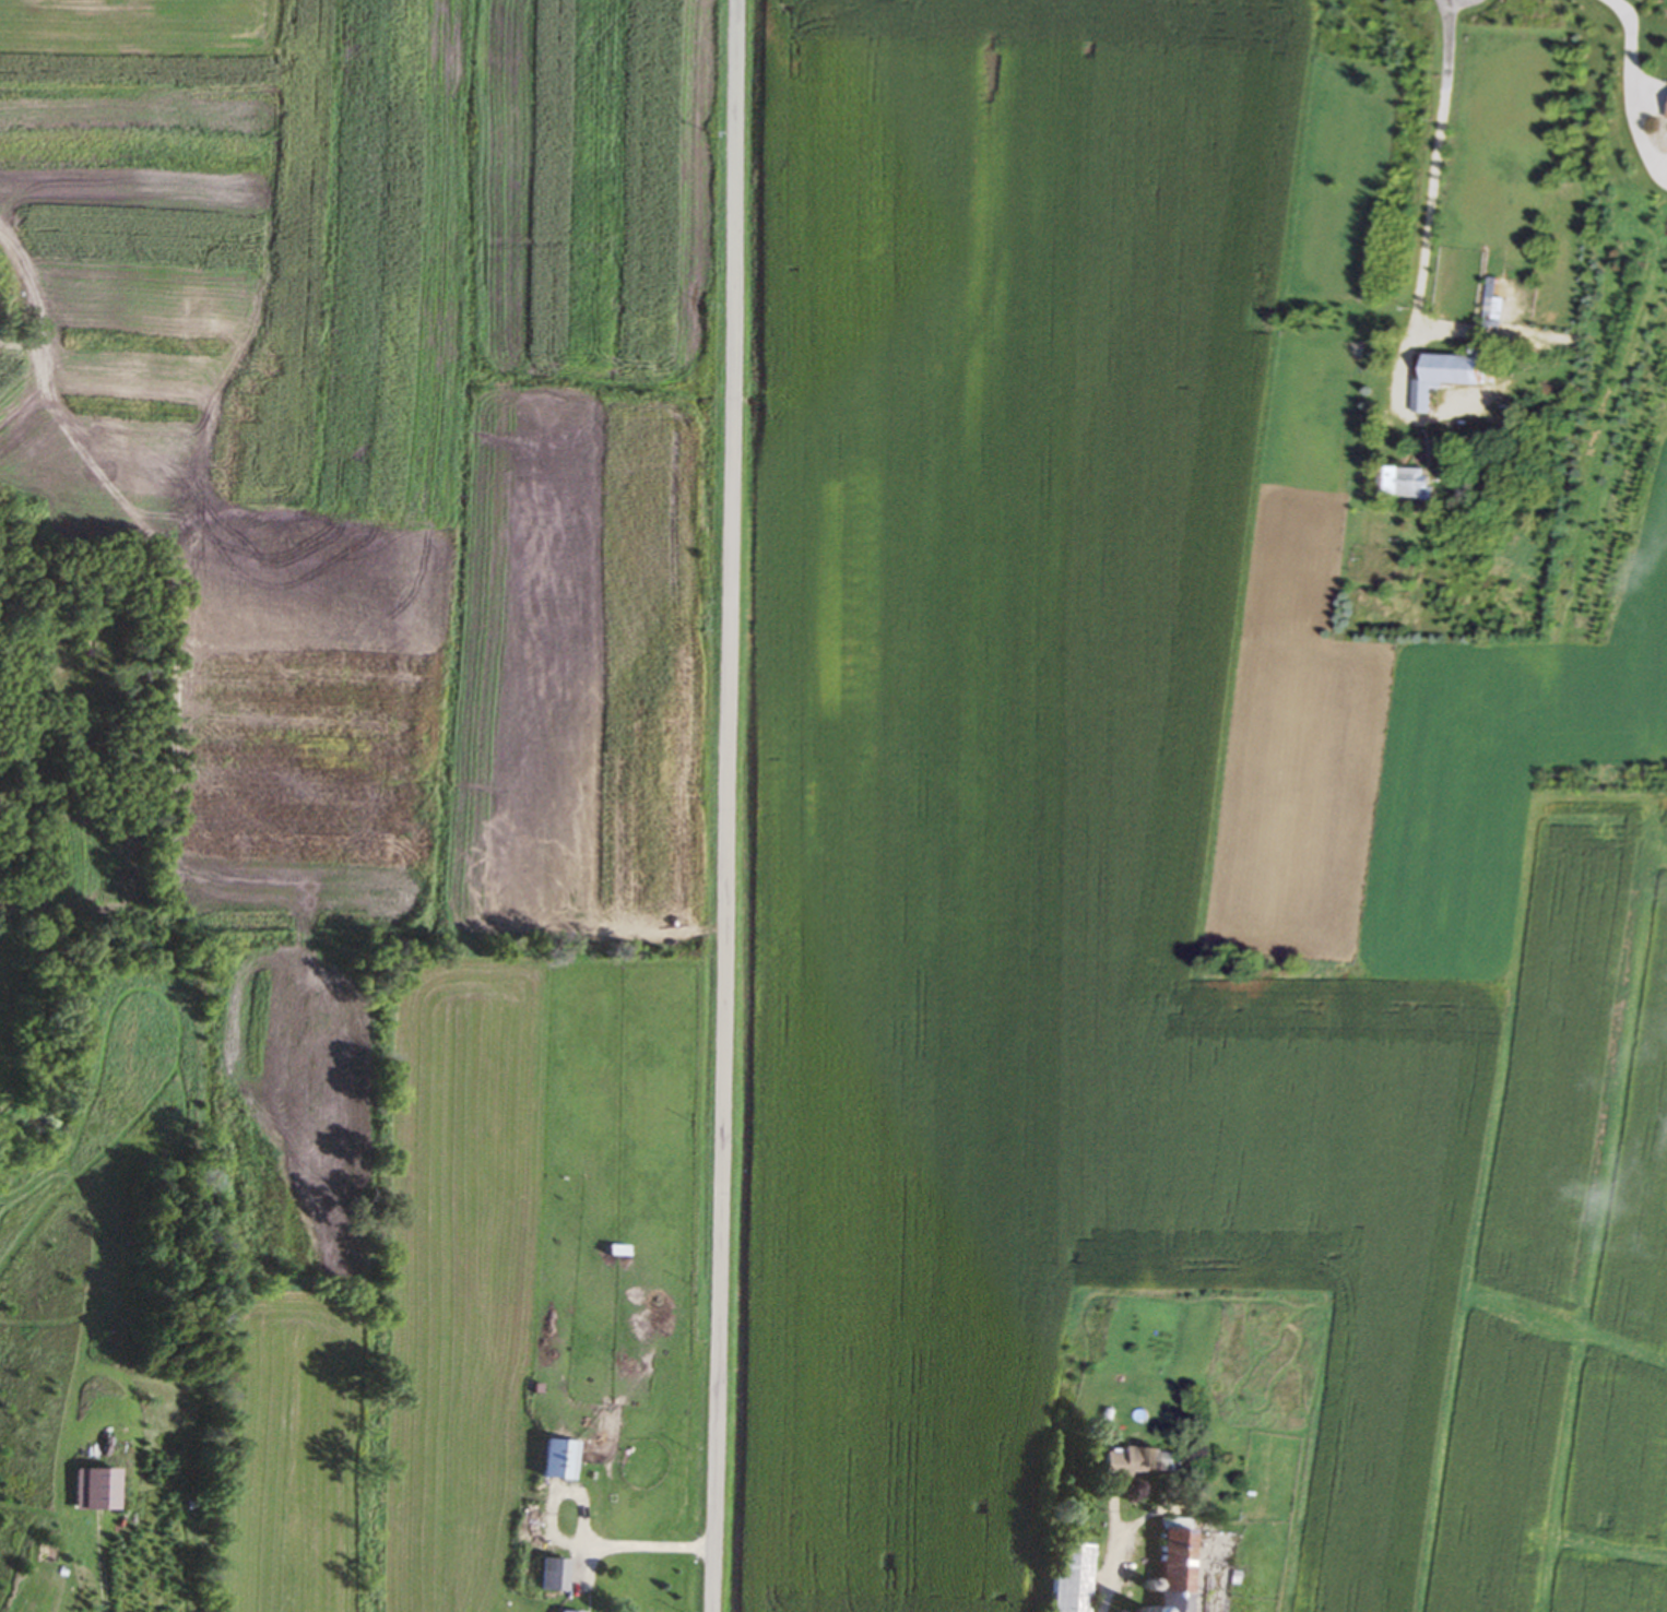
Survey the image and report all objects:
road: (1630, 93)
building: (1665, 117)
road: (1429, 200)
building: (1439, 377)
building: (1400, 483)
road: (729, 806)
building: (613, 1252)
building: (553, 1460)
building: (1139, 1461)
building: (92, 1491)
road: (572, 1543)
building: (1170, 1565)
road: (1112, 1570)
building: (548, 1576)
building: (1068, 1578)

